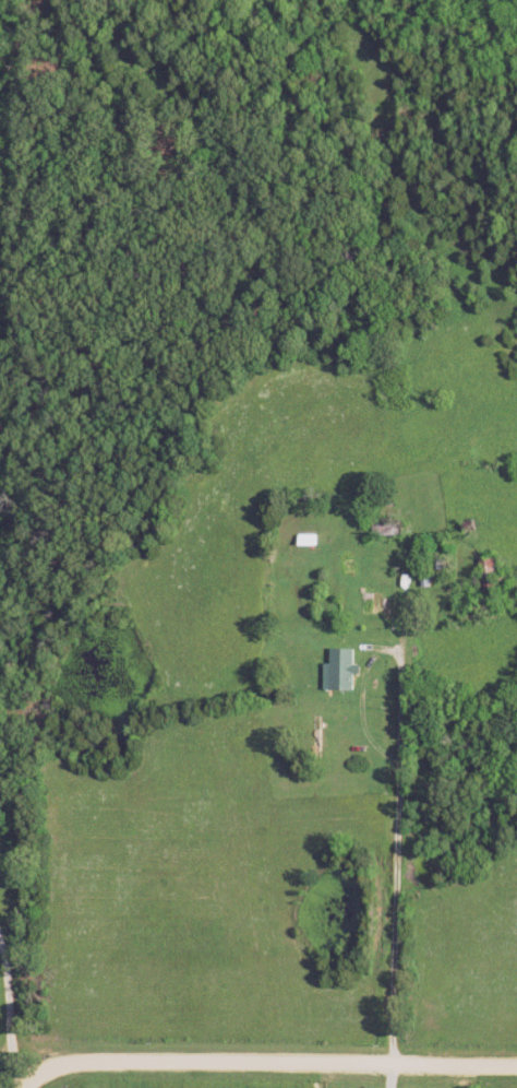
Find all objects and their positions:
building: (346, 670)
road: (406, 852)
road: (16, 996)
road: (272, 1056)

